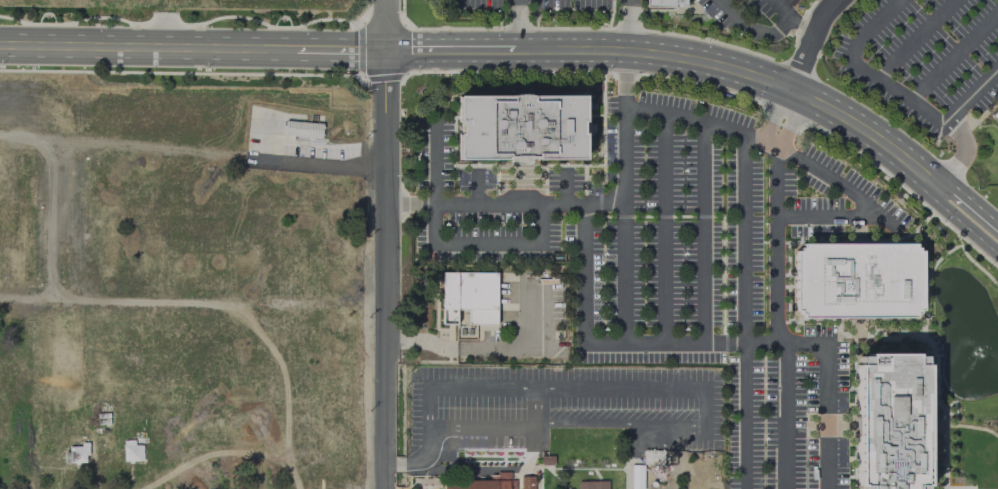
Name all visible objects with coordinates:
building: (663, 3)
road: (781, 7)
road: (515, 25)
road: (803, 25)
road: (626, 26)
road: (751, 28)
road: (915, 39)
road: (813, 45)
road: (148, 47)
road: (343, 50)
road: (433, 50)
road: (953, 56)
road: (719, 68)
road: (623, 70)
road: (866, 70)
road: (973, 93)
building: (995, 115)
road: (696, 118)
road: (780, 118)
building: (520, 127)
building: (302, 128)
road: (193, 152)
road: (963, 152)
road: (433, 162)
road: (774, 181)
road: (564, 186)
road: (475, 187)
road: (968, 198)
road: (561, 203)
road: (410, 204)
road: (961, 222)
road: (662, 227)
road: (702, 231)
road: (540, 241)
road: (387, 244)
road: (775, 254)
road: (623, 272)
building: (857, 280)
road: (583, 292)
building: (468, 296)
road: (194, 297)
road: (744, 310)
road: (456, 349)
road: (638, 387)
road: (537, 406)
road: (784, 415)
building: (890, 422)
road: (620, 424)
road: (972, 426)
road: (944, 436)
building: (570, 443)
building: (76, 453)
building: (652, 457)
road: (402, 464)
building: (636, 476)
building: (526, 482)
building: (482, 483)
building: (592, 485)
road: (997, 488)

